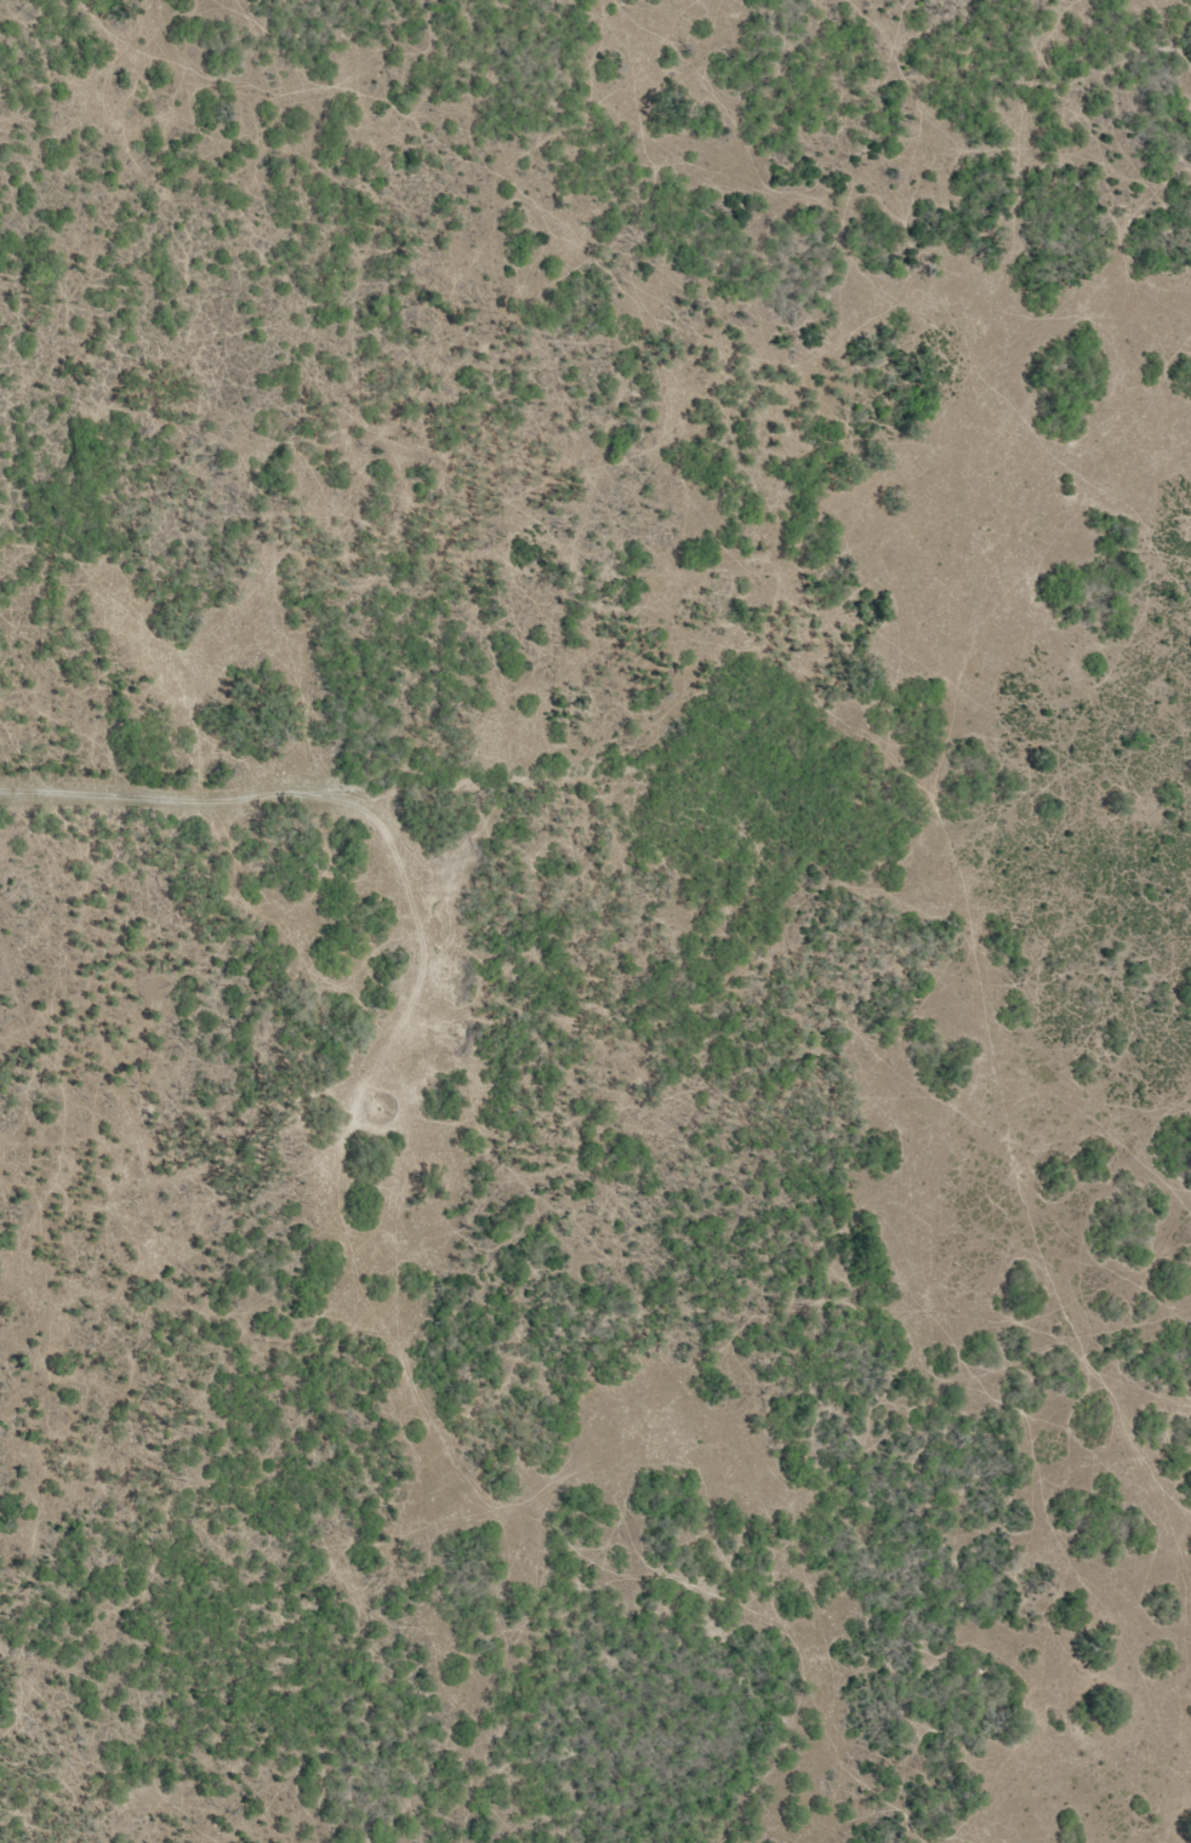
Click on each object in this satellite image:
road: (511, 1271)

